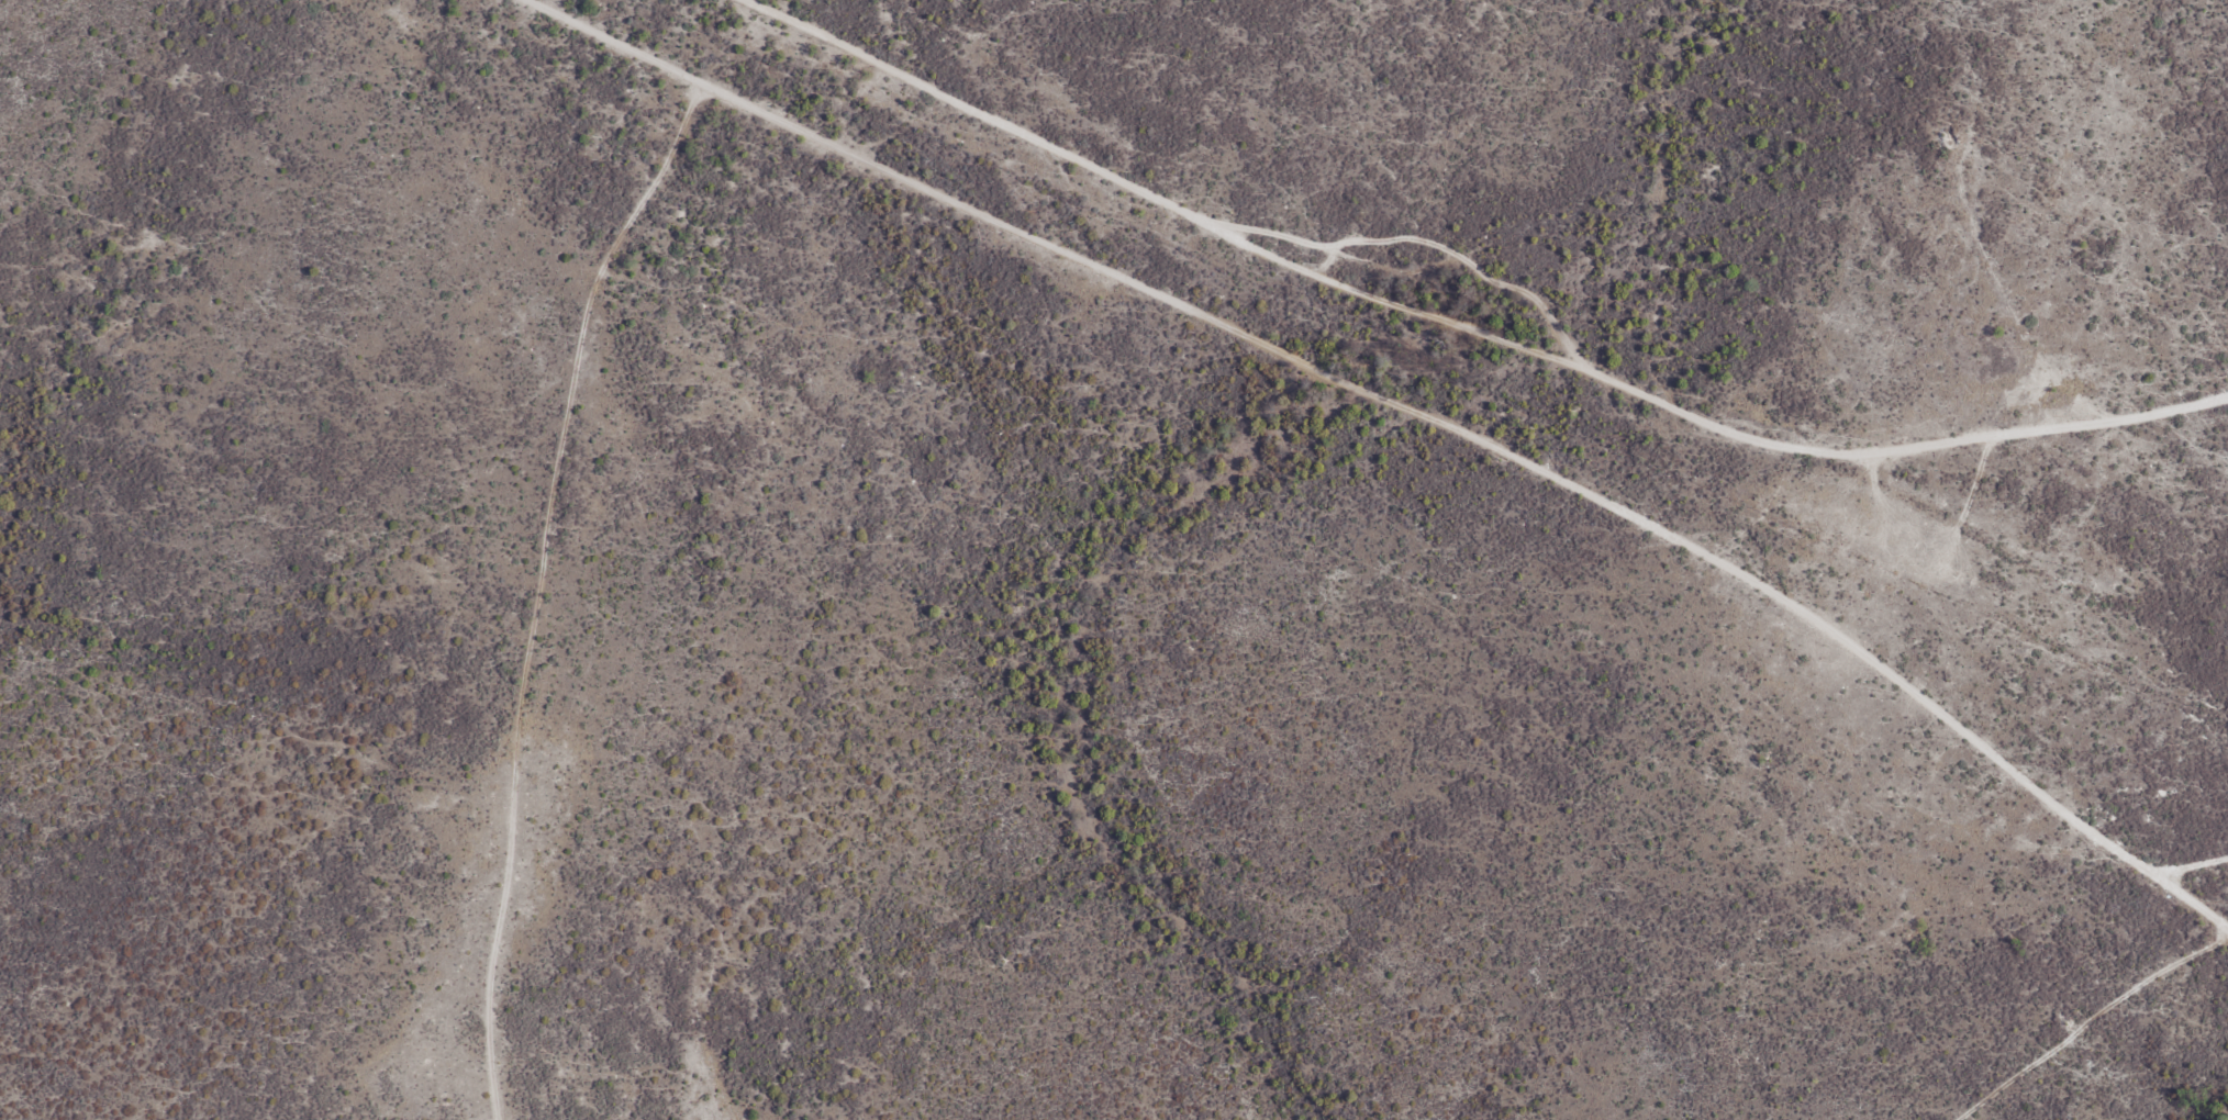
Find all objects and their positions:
road: (1461, 326)
road: (1422, 407)

